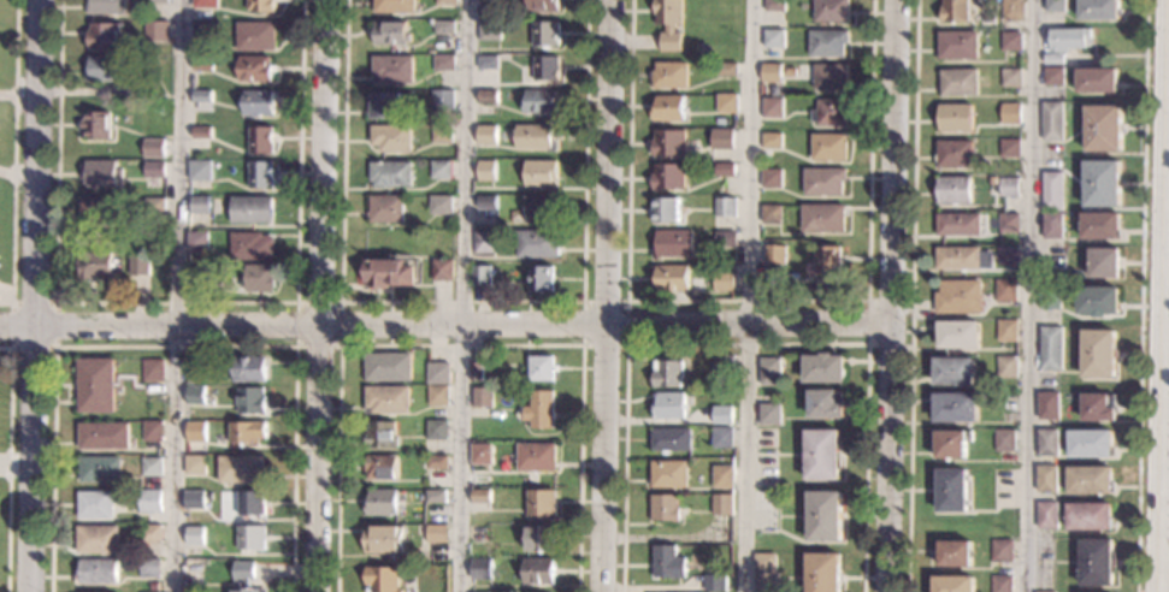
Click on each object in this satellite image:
building: (157, 1)
building: (444, 2)
building: (489, 2)
building: (203, 4)
building: (774, 5)
building: (259, 6)
building: (392, 6)
building: (543, 6)
building: (1055, 6)
building: (105, 7)
building: (1011, 10)
building: (1098, 10)
building: (831, 11)
building: (956, 11)
building: (669, 23)
building: (443, 26)
building: (155, 30)
building: (489, 30)
building: (201, 32)
building: (390, 32)
building: (545, 34)
building: (102, 36)
building: (255, 36)
building: (773, 39)
building: (1068, 39)
building: (1011, 41)
building: (827, 43)
building: (958, 46)
building: (1052, 59)
building: (442, 63)
building: (486, 63)
building: (201, 65)
building: (106, 69)
building: (254, 69)
building: (391, 69)
building: (544, 69)
building: (727, 69)
building: (771, 72)
building: (790, 72)
building: (669, 76)
building: (1053, 76)
building: (831, 77)
building: (1011, 77)
building: (1097, 81)
building: (958, 82)
building: (124, 91)
road: (7, 95)
building: (486, 96)
building: (201, 99)
building: (545, 99)
building: (441, 100)
building: (258, 103)
building: (727, 103)
building: (385, 105)
building: (668, 108)
building: (773, 108)
building: (829, 112)
building: (1010, 113)
building: (955, 118)
building: (1051, 122)
building: (96, 125)
building: (1103, 128)
building: (201, 134)
building: (442, 134)
building: (485, 135)
building: (725, 136)
building: (391, 137)
building: (533, 137)
building: (261, 140)
building: (772, 141)
building: (667, 144)
building: (829, 147)
building: (153, 148)
building: (1010, 148)
building: (955, 154)
road: (13, 156)
building: (154, 170)
building: (200, 170)
building: (439, 170)
building: (725, 170)
building: (485, 171)
road: (6, 172)
building: (101, 173)
building: (539, 173)
building: (261, 174)
building: (390, 174)
building: (668, 177)
building: (772, 178)
building: (823, 182)
building: (993, 182)
building: (1102, 184)
building: (1009, 187)
building: (953, 190)
building: (1051, 190)
building: (486, 202)
building: (200, 205)
building: (154, 206)
building: (439, 206)
building: (725, 207)
building: (539, 208)
building: (386, 209)
building: (99, 211)
building: (252, 211)
building: (666, 211)
building: (772, 214)
building: (823, 218)
building: (1009, 223)
building: (958, 225)
building: (1052, 225)
building: (1100, 226)
building: (726, 239)
building: (197, 242)
building: (485, 242)
building: (672, 243)
building: (536, 244)
building: (252, 245)
building: (774, 254)
building: (1008, 255)
building: (958, 259)
building: (827, 260)
building: (95, 264)
building: (1104, 264)
building: (138, 265)
building: (442, 271)
building: (388, 272)
building: (199, 274)
building: (480, 276)
building: (671, 277)
building: (260, 278)
building: (542, 278)
building: (722, 282)
building: (1005, 291)
road: (34, 295)
road: (178, 295)
road: (603, 295)
road: (745, 295)
road: (320, 296)
road: (461, 296)
road: (890, 296)
road: (913, 296)
road: (1029, 296)
road: (1141, 296)
road: (1163, 296)
road: (5, 297)
building: (960, 297)
building: (1049, 297)
road: (745, 301)
building: (1098, 301)
road: (341, 302)
road: (461, 302)
road: (626, 302)
road: (175, 303)
road: (867, 321)
road: (443, 328)
building: (1006, 331)
building: (960, 335)
road: (461, 344)
road: (745, 344)
road: (176, 347)
road: (54, 348)
building: (1051, 348)
building: (1098, 354)
building: (724, 365)
building: (388, 367)
building: (1008, 367)
building: (541, 368)
building: (823, 368)
building: (250, 369)
building: (153, 371)
building: (953, 371)
building: (476, 372)
building: (769, 372)
building: (438, 373)
building: (666, 373)
building: (193, 374)
building: (95, 385)
building: (438, 395)
building: (196, 396)
building: (483, 397)
building: (388, 398)
building: (252, 401)
building: (1006, 403)
building: (825, 404)
building: (668, 405)
building: (1047, 405)
building: (956, 408)
building: (1097, 408)
building: (539, 409)
building: (769, 414)
building: (722, 415)
building: (437, 430)
building: (153, 431)
building: (195, 432)
building: (248, 433)
building: (102, 436)
building: (382, 436)
building: (722, 437)
building: (671, 439)
building: (1005, 440)
building: (1047, 443)
building: (951, 444)
building: (1091, 444)
building: (480, 454)
building: (821, 455)
building: (536, 457)
building: (436, 462)
road: (8, 463)
road: (4, 466)
building: (150, 466)
building: (195, 466)
building: (382, 467)
building: (100, 469)
building: (242, 469)
building: (668, 474)
building: (724, 476)
building: (1046, 479)
building: (1090, 480)
building: (952, 491)
building: (436, 496)
building: (480, 499)
building: (149, 501)
building: (194, 501)
building: (382, 502)
building: (250, 503)
building: (542, 503)
building: (95, 504)
building: (722, 504)
building: (666, 508)
building: (1047, 515)
building: (823, 516)
building: (1090, 516)
building: (420, 528)
building: (478, 533)
building: (150, 534)
building: (437, 534)
building: (193, 535)
building: (250, 537)
building: (96, 539)
building: (384, 539)
building: (539, 539)
building: (1002, 551)
building: (955, 553)
building: (1096, 562)
building: (668, 563)
building: (149, 568)
building: (480, 569)
building: (96, 572)
building: (538, 572)
building: (764, 573)
building: (823, 573)
building: (243, 576)
building: (382, 580)
building: (715, 584)
building: (953, 584)
building: (1000, 584)
building: (154, 586)
building: (1052, 591)

